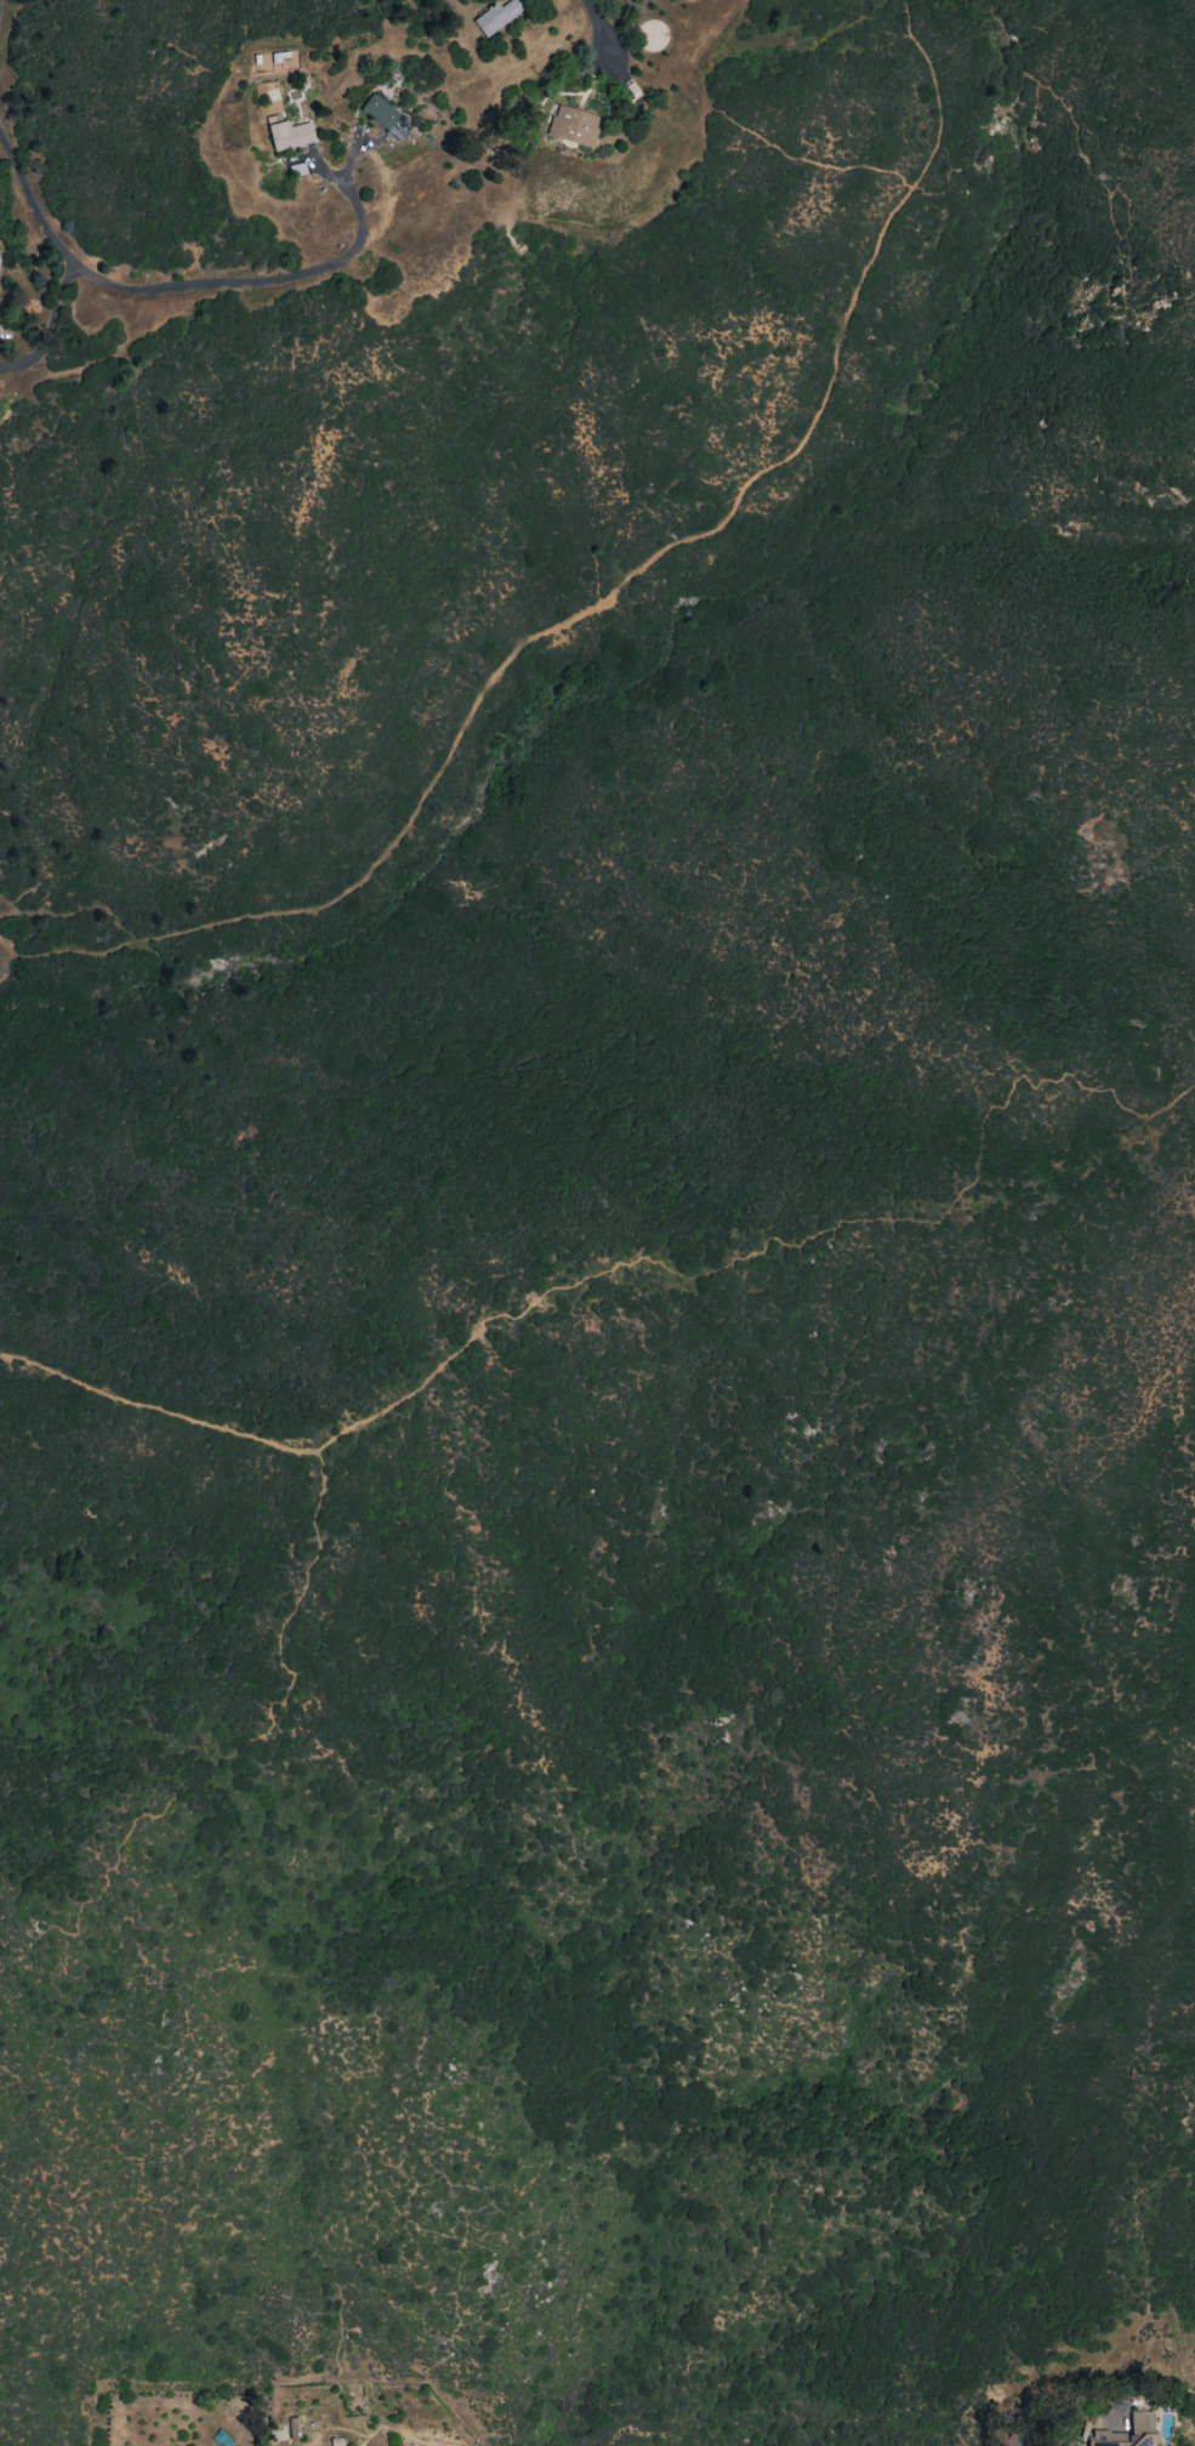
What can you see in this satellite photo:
building: (496, 16)
road: (603, 21)
road: (934, 92)
building: (383, 116)
building: (571, 126)
building: (289, 135)
building: (296, 170)
road: (1092, 171)
road: (195, 281)
road: (47, 325)
road: (650, 559)
road: (638, 1259)
road: (254, 1739)
road: (1071, 2400)
building: (292, 2428)
building: (1126, 2433)

